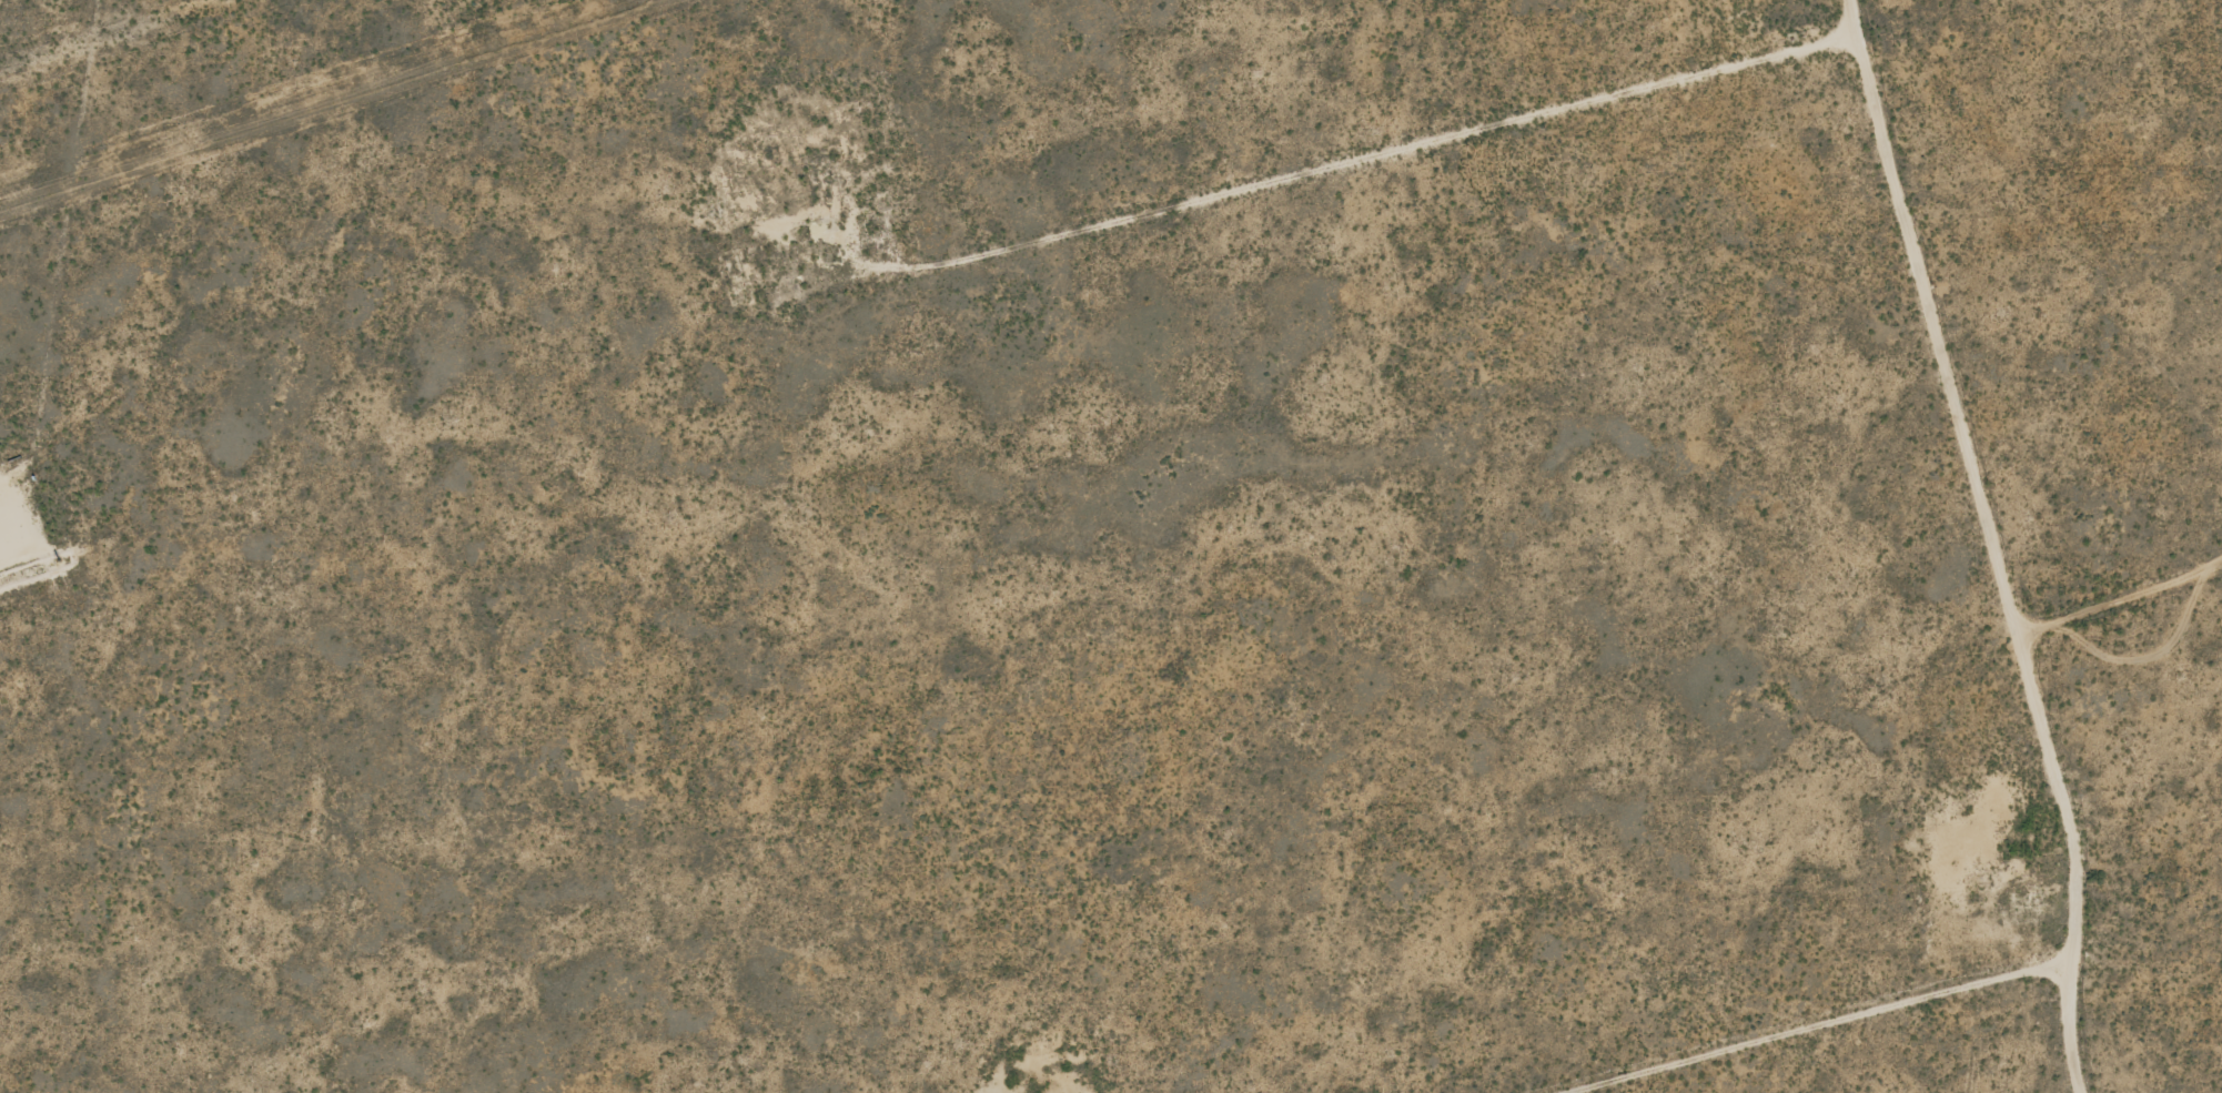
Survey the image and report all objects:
road: (1968, 437)
road: (2121, 598)
road: (2062, 983)

